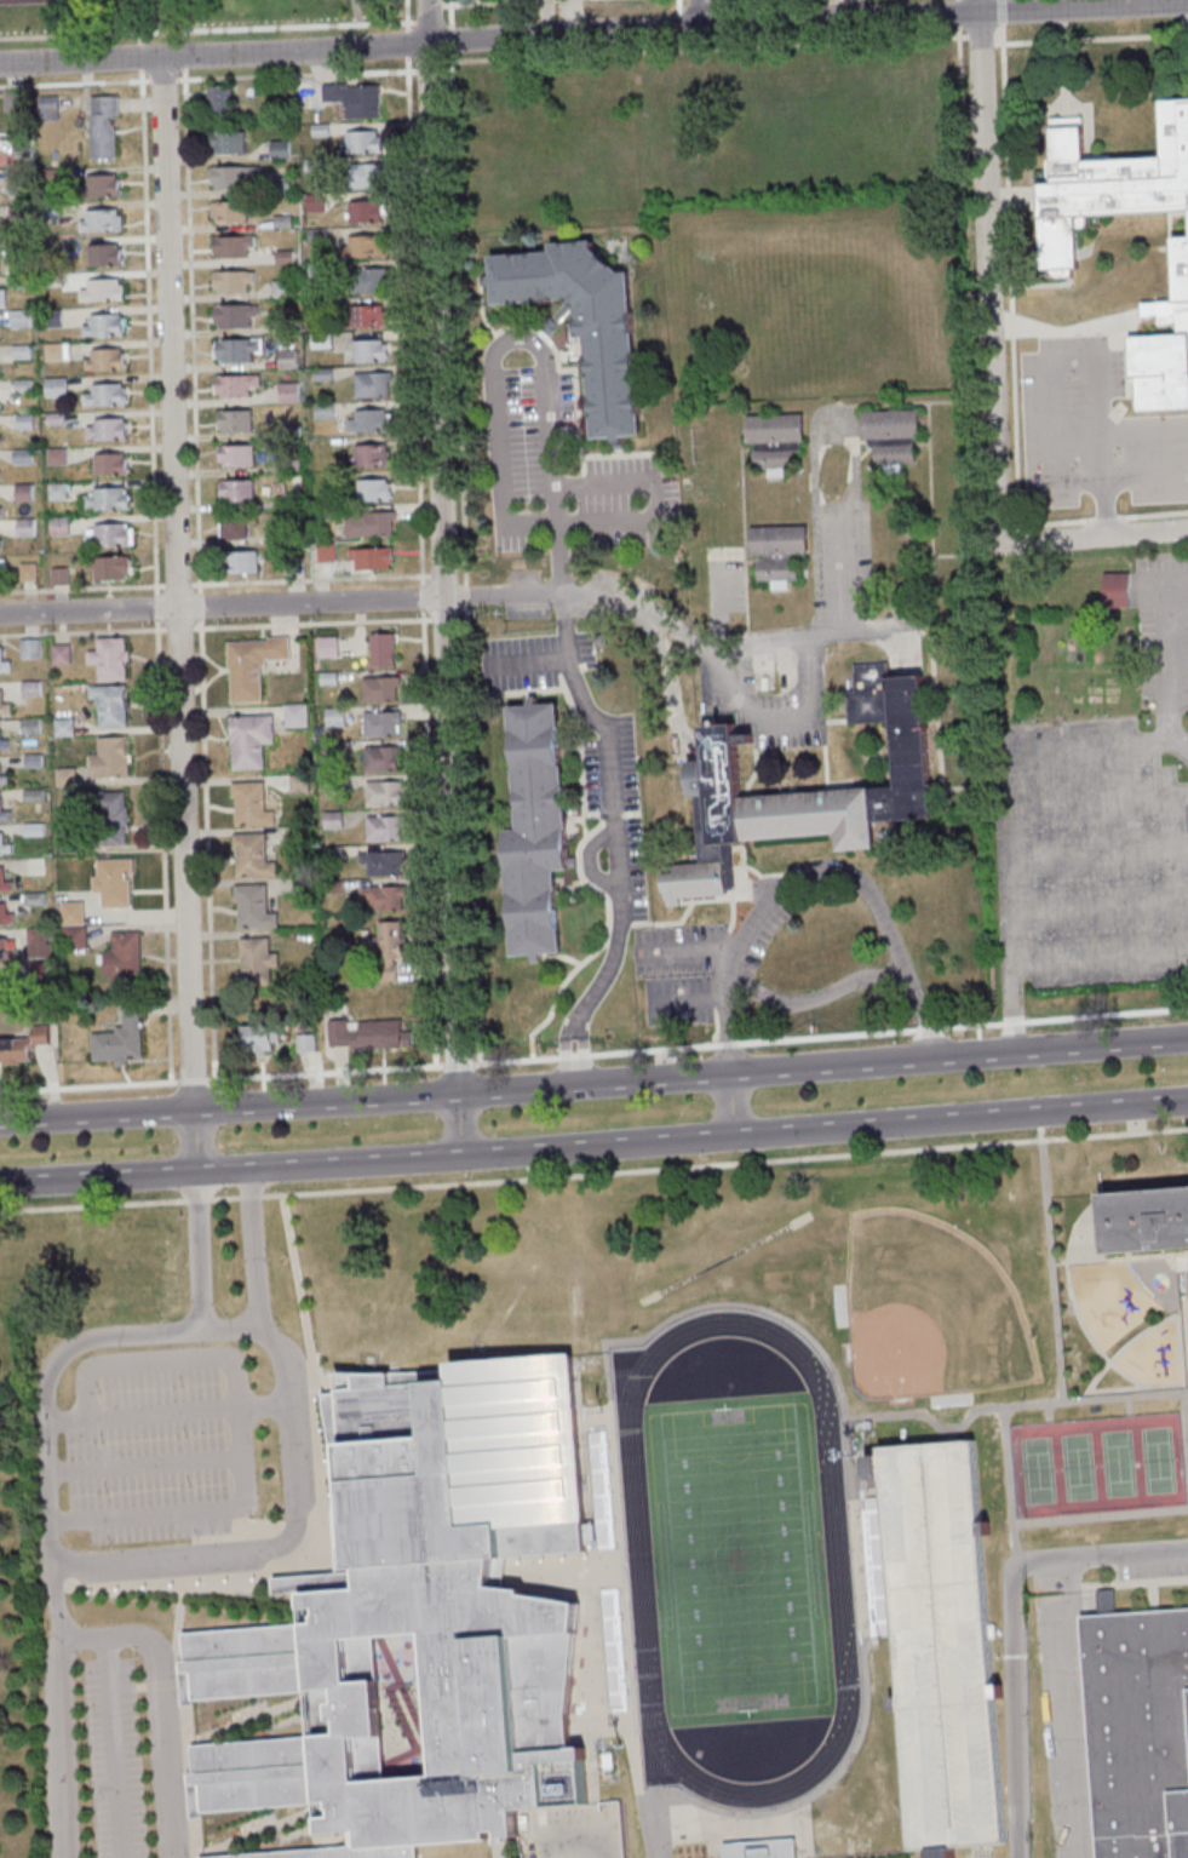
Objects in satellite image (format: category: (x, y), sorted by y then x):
park: (30, 1)
road: (721, 5)
road: (976, 6)
road: (357, 12)
road: (678, 13)
road: (698, 13)
road: (998, 13)
park: (180, 15)
road: (122, 17)
road: (722, 17)
road: (242, 29)
road: (593, 31)
road: (980, 34)
road: (1092, 39)
road: (700, 48)
road: (426, 65)
road: (207, 76)
building: (352, 99)
building: (11, 101)
building: (218, 102)
building: (46, 108)
road: (959, 108)
building: (101, 127)
building: (318, 131)
building: (19, 142)
building: (225, 143)
building: (358, 143)
building: (277, 149)
building: (312, 166)
building: (48, 174)
building: (230, 176)
building: (365, 176)
building: (1106, 182)
building: (16, 183)
building: (101, 185)
building: (279, 185)
building: (312, 200)
building: (48, 210)
building: (229, 211)
building: (16, 212)
building: (362, 212)
building: (98, 220)
building: (281, 222)
building: (315, 235)
building: (230, 246)
building: (16, 247)
building: (361, 248)
building: (102, 256)
building: (282, 258)
road: (986, 260)
building: (316, 270)
road: (1005, 276)
building: (18, 281)
building: (51, 281)
building: (230, 281)
building: (367, 281)
road: (412, 287)
building: (280, 289)
building: (99, 291)
building: (1, 298)
building: (316, 306)
building: (233, 316)
building: (50, 317)
building: (362, 317)
building: (18, 319)
building: (580, 322)
building: (102, 326)
building: (283, 326)
building: (318, 342)
building: (1163, 344)
building: (234, 350)
building: (19, 351)
building: (52, 351)
building: (367, 351)
building: (103, 360)
building: (285, 360)
road: (1068, 360)
building: (320, 375)
building: (369, 384)
road: (545, 384)
building: (234, 385)
building: (22, 386)
building: (54, 388)
building: (286, 394)
building: (103, 396)
building: (0, 406)
building: (321, 411)
building: (53, 419)
building: (233, 420)
building: (366, 422)
building: (23, 423)
building: (105, 430)
parking lot: (1092, 430)
building: (288, 431)
building: (0, 435)
building: (889, 436)
building: (773, 441)
road: (1100, 455)
building: (21, 457)
building: (54, 457)
building: (234, 457)
building: (368, 457)
parking lot: (518, 459)
building: (108, 464)
building: (288, 465)
building: (0, 471)
road: (1144, 476)
building: (235, 491)
building: (54, 492)
building: (369, 492)
building: (22, 493)
building: (105, 499)
building: (289, 499)
building: (0, 504)
road: (1103, 505)
building: (322, 514)
road: (1101, 520)
building: (367, 524)
building: (231, 526)
building: (23, 527)
building: (57, 527)
road: (460, 531)
building: (107, 535)
road: (1080, 535)
building: (0, 539)
road: (440, 547)
building: (323, 552)
building: (775, 552)
building: (369, 558)
building: (237, 562)
building: (2, 564)
building: (292, 566)
building: (108, 568)
building: (27, 572)
building: (57, 577)
road: (200, 578)
road: (310, 580)
road: (176, 584)
road: (1160, 584)
building: (1113, 590)
road: (419, 597)
road: (220, 607)
road: (311, 624)
road: (1175, 625)
parking lot: (787, 636)
building: (326, 647)
building: (27, 648)
building: (380, 649)
building: (59, 654)
road: (719, 654)
building: (108, 659)
building: (4, 666)
building: (249, 666)
building: (327, 678)
road: (1161, 683)
building: (29, 688)
building: (378, 689)
building: (109, 706)
building: (4, 710)
building: (293, 716)
building: (333, 717)
road: (780, 719)
building: (378, 724)
building: (28, 727)
building: (62, 728)
building: (317, 729)
building: (247, 741)
building: (2, 745)
parking lot: (582, 750)
road: (606, 750)
building: (108, 758)
building: (380, 759)
building: (30, 761)
building: (64, 778)
building: (2, 780)
building: (297, 784)
road: (995, 788)
building: (888, 790)
building: (380, 793)
building: (30, 796)
building: (248, 805)
building: (108, 813)
building: (4, 816)
building: (331, 820)
parking lot: (1100, 821)
building: (381, 828)
building: (31, 830)
building: (533, 830)
building: (298, 835)
building: (65, 842)
road: (426, 843)
building: (4, 848)
building: (331, 853)
road: (1094, 854)
building: (251, 856)
building: (380, 862)
building: (35, 865)
road: (813, 872)
building: (111, 883)
building: (4, 885)
building: (299, 885)
building: (332, 888)
building: (383, 898)
building: (31, 900)
building: (251, 907)
road: (1095, 908)
building: (69, 913)
building: (4, 916)
parking lot: (752, 928)
building: (71, 937)
parking lot: (759, 939)
building: (35, 944)
building: (6, 948)
building: (385, 948)
road: (690, 948)
road: (1096, 959)
building: (121, 960)
building: (253, 962)
building: (35, 971)
parking lot: (677, 971)
building: (1, 981)
road: (923, 1021)
road: (570, 1034)
building: (366, 1036)
road: (727, 1036)
building: (117, 1038)
building: (256, 1038)
road: (931, 1042)
building: (304, 1044)
building: (21, 1046)
road: (593, 1054)
road: (958, 1056)
road: (727, 1057)
road: (573, 1062)
road: (592, 1084)
road: (325, 1103)
road: (728, 1106)
road: (97, 1117)
road: (957, 1119)
road: (457, 1125)
road: (1127, 1132)
road: (195, 1141)
road: (592, 1147)
road: (327, 1164)
road: (98, 1176)
road: (533, 1176)
building: (1146, 1221)
road: (249, 1248)
road: (195, 1250)
road: (1051, 1263)
park: (928, 1311)
road: (274, 1343)
road: (1009, 1405)
road: (165, 1413)
road: (1186, 1421)
road: (237, 1433)
parking lot: (156, 1444)
park: (1155, 1461)
park: (1115, 1464)
road: (140, 1466)
park: (1075, 1468)
park: (1035, 1472)
road: (1006, 1485)
road: (322, 1496)
road: (1098, 1516)
park: (735, 1559)
track: (833, 1559)
park: (735, 1560)
building: (423, 1617)
road: (1010, 1623)
building: (942, 1645)
parking lot: (942, 1645)
road: (159, 1704)
road: (59, 1710)
road: (180, 1720)
building: (1138, 1730)
road: (110, 1747)
parking lot: (111, 1759)
road: (582, 1842)
building: (762, 1850)

